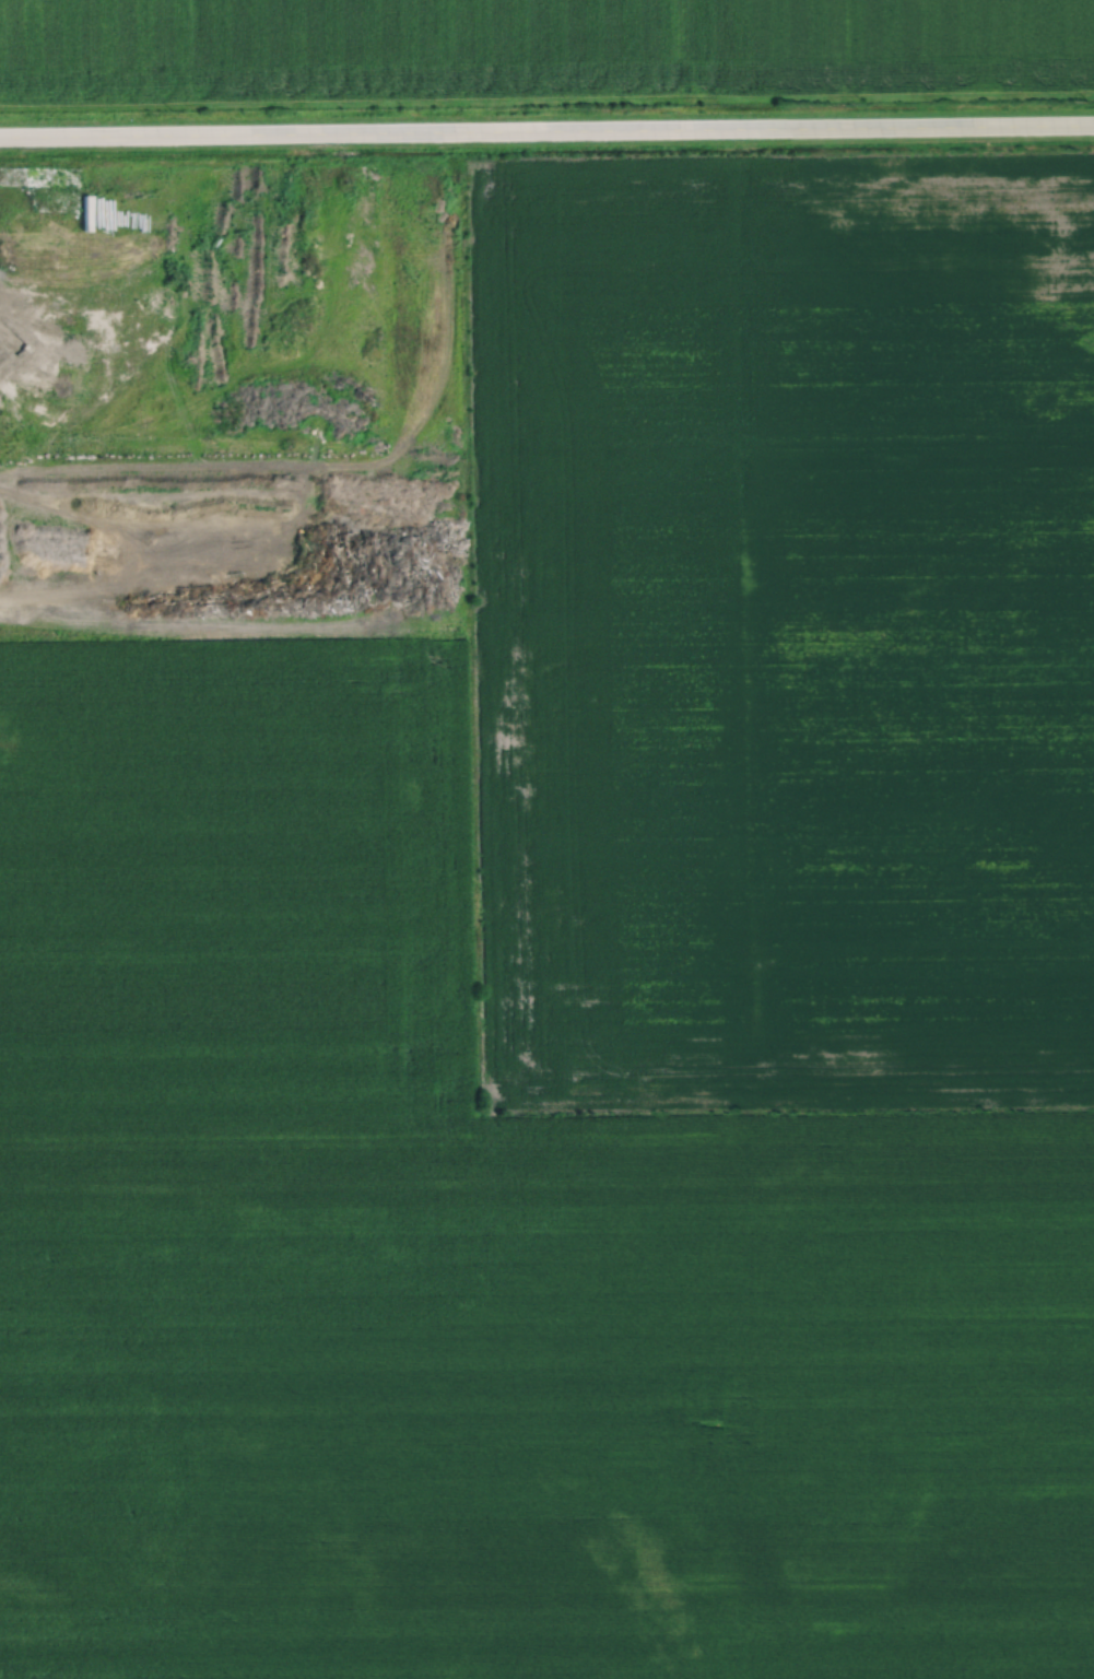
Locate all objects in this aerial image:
crop: (530, 48)
road: (546, 129)
road: (157, 431)
crop: (783, 633)
crop: (257, 762)
crop: (546, 1361)
crop: (558, 1642)

